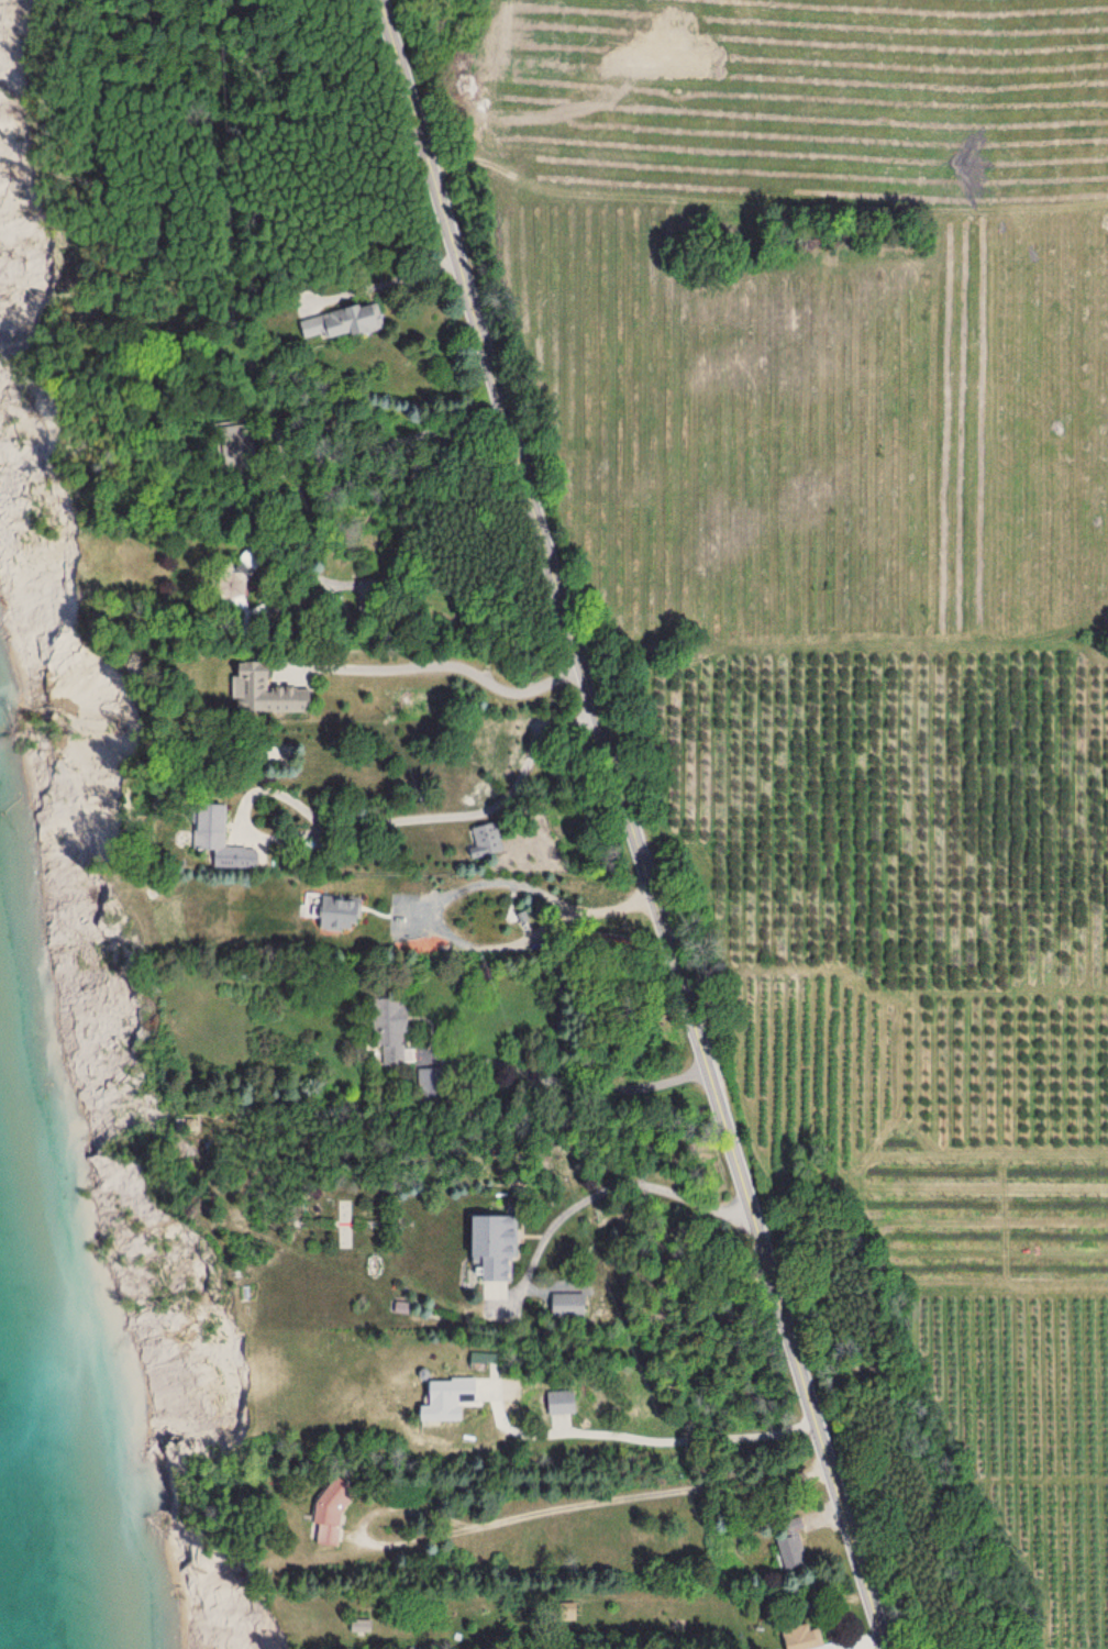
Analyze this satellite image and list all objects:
building: (352, 323)
road: (423, 577)
building: (275, 691)
road: (450, 819)
road: (632, 822)
building: (228, 841)
building: (487, 842)
building: (340, 914)
building: (400, 1031)
building: (501, 1257)
building: (564, 1304)
building: (452, 1402)
building: (567, 1405)
road: (606, 1504)
building: (339, 1519)
building: (797, 1554)
road: (664, 1592)
building: (373, 1629)
building: (809, 1638)

